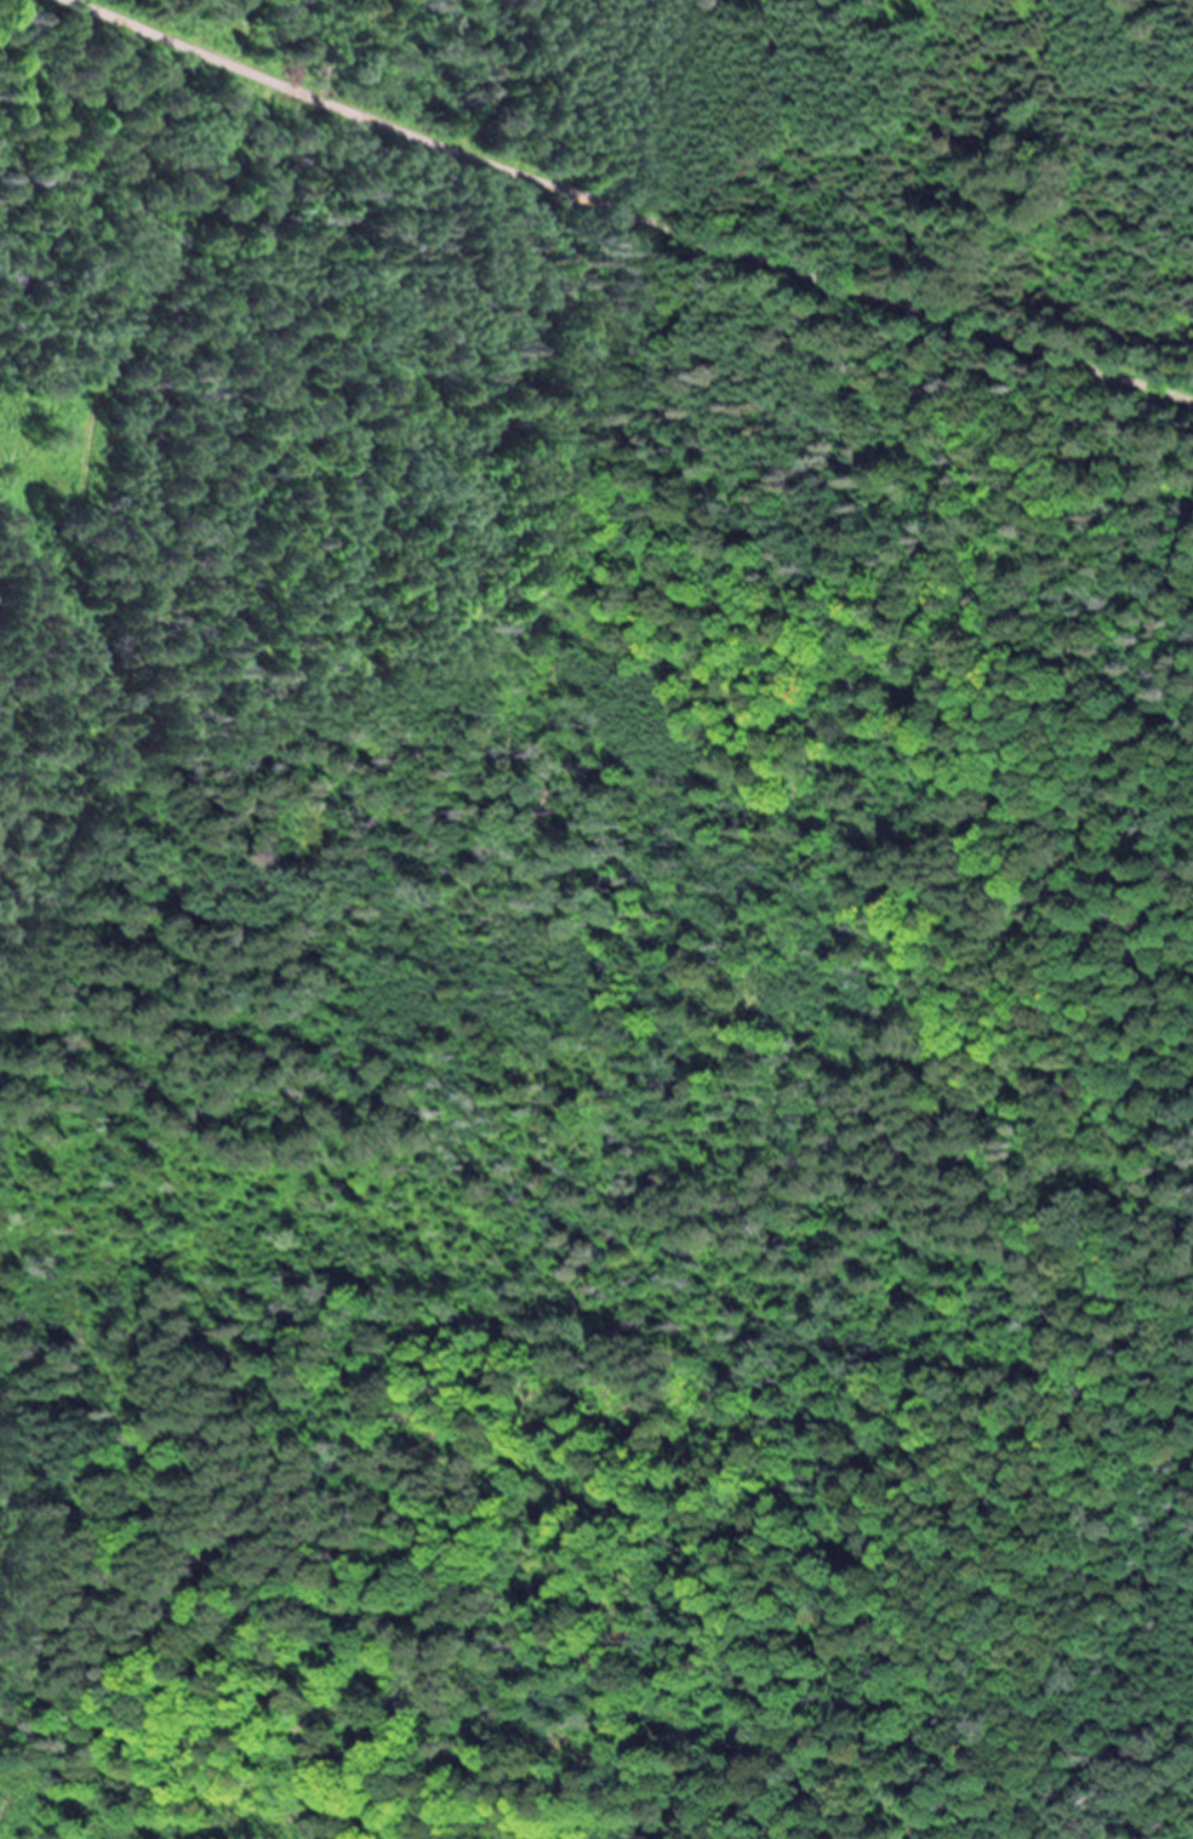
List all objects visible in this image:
road: (629, 213)
road: (95, 406)
road: (10, 1043)

